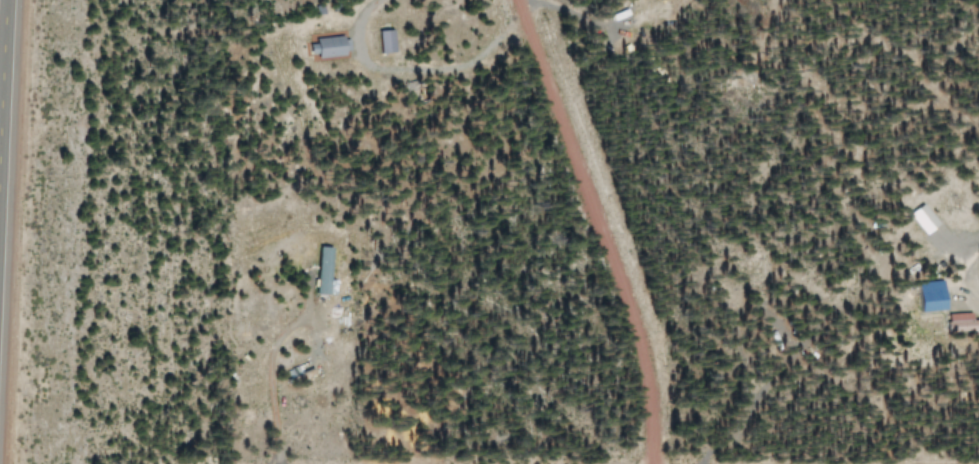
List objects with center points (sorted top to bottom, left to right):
road: (1, 32)
building: (382, 40)
building: (323, 47)
building: (918, 218)
road: (597, 228)
building: (318, 260)
building: (925, 296)
building: (960, 323)

